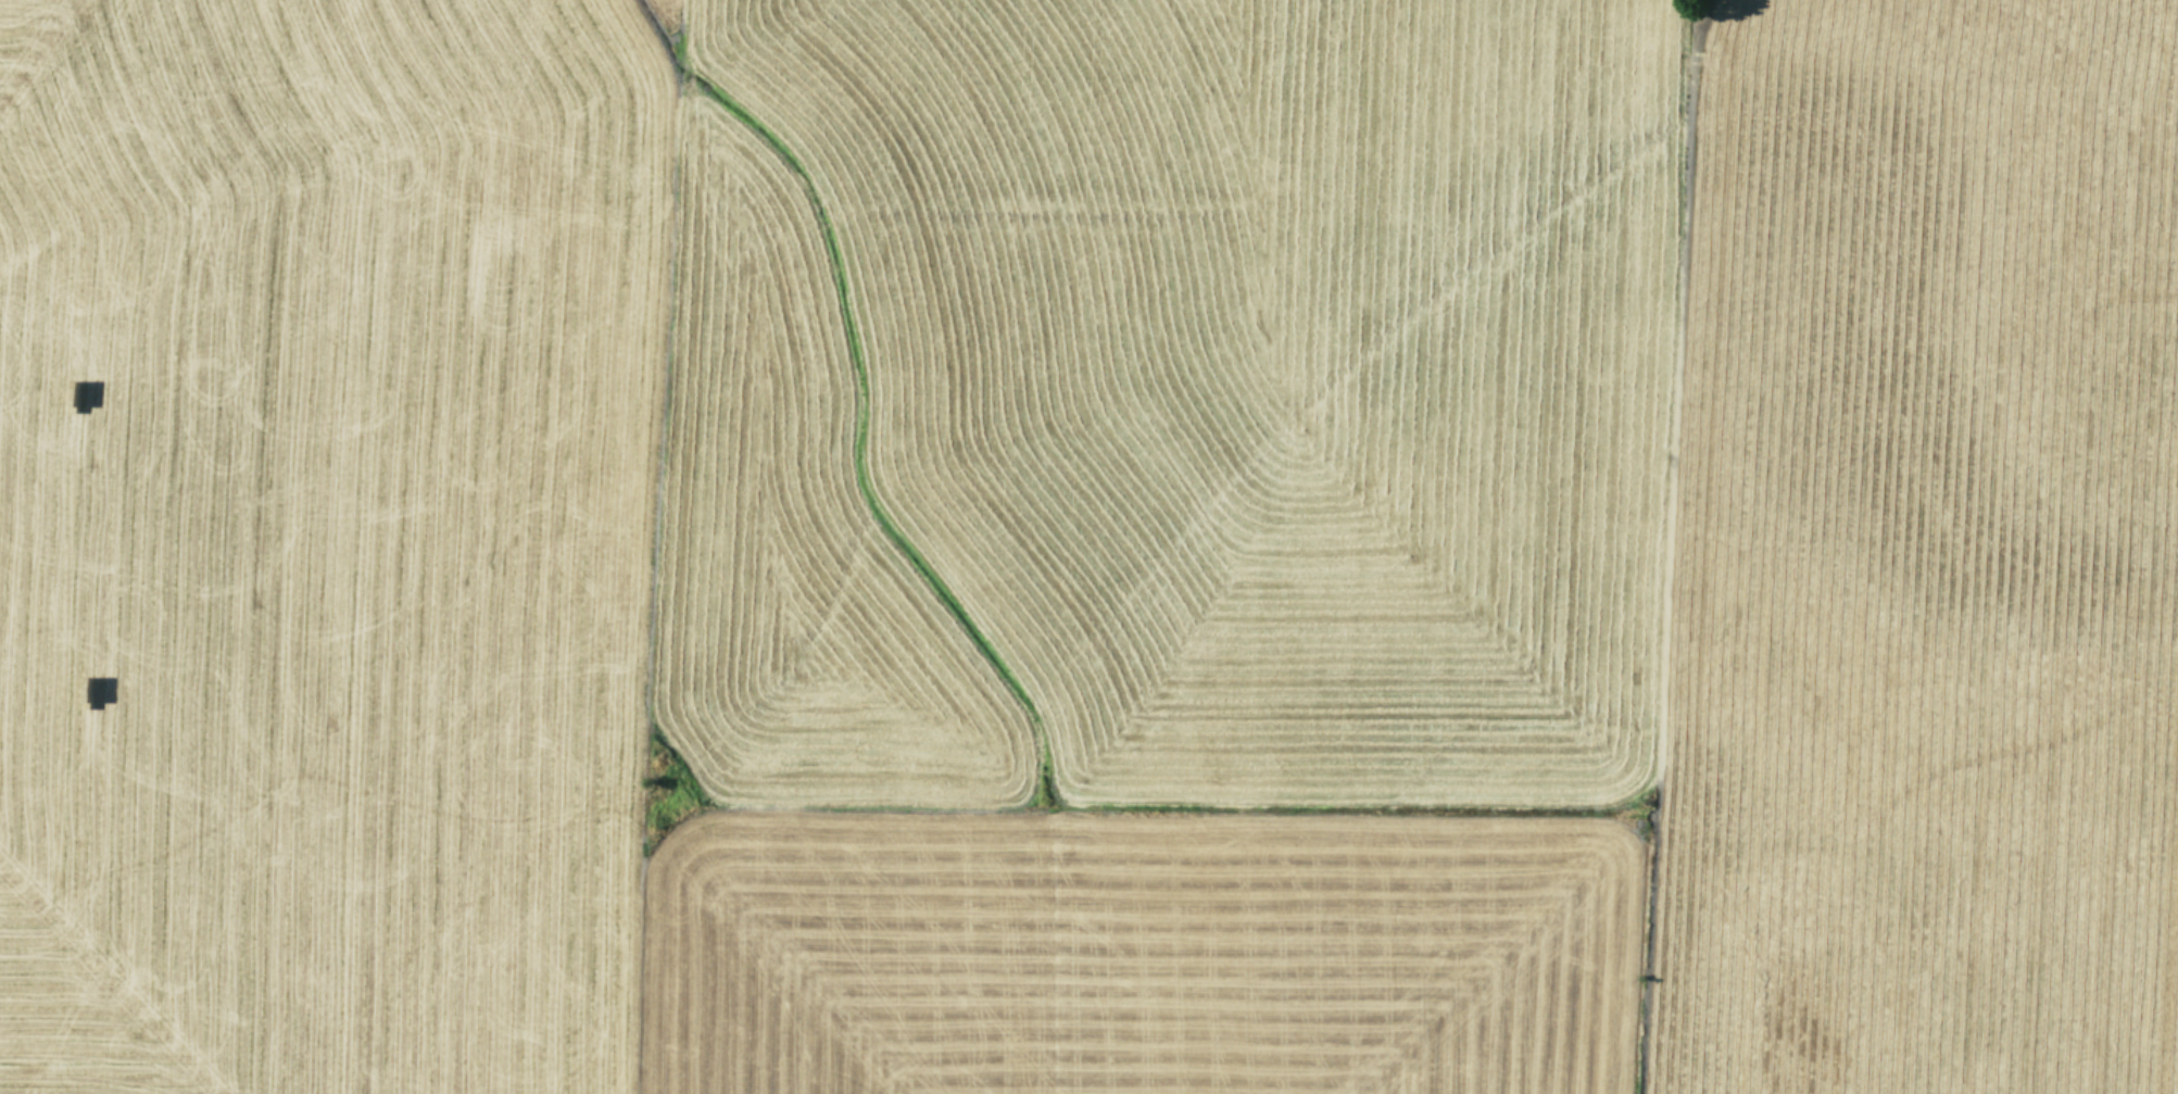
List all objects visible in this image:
crop: (1088, 546)

